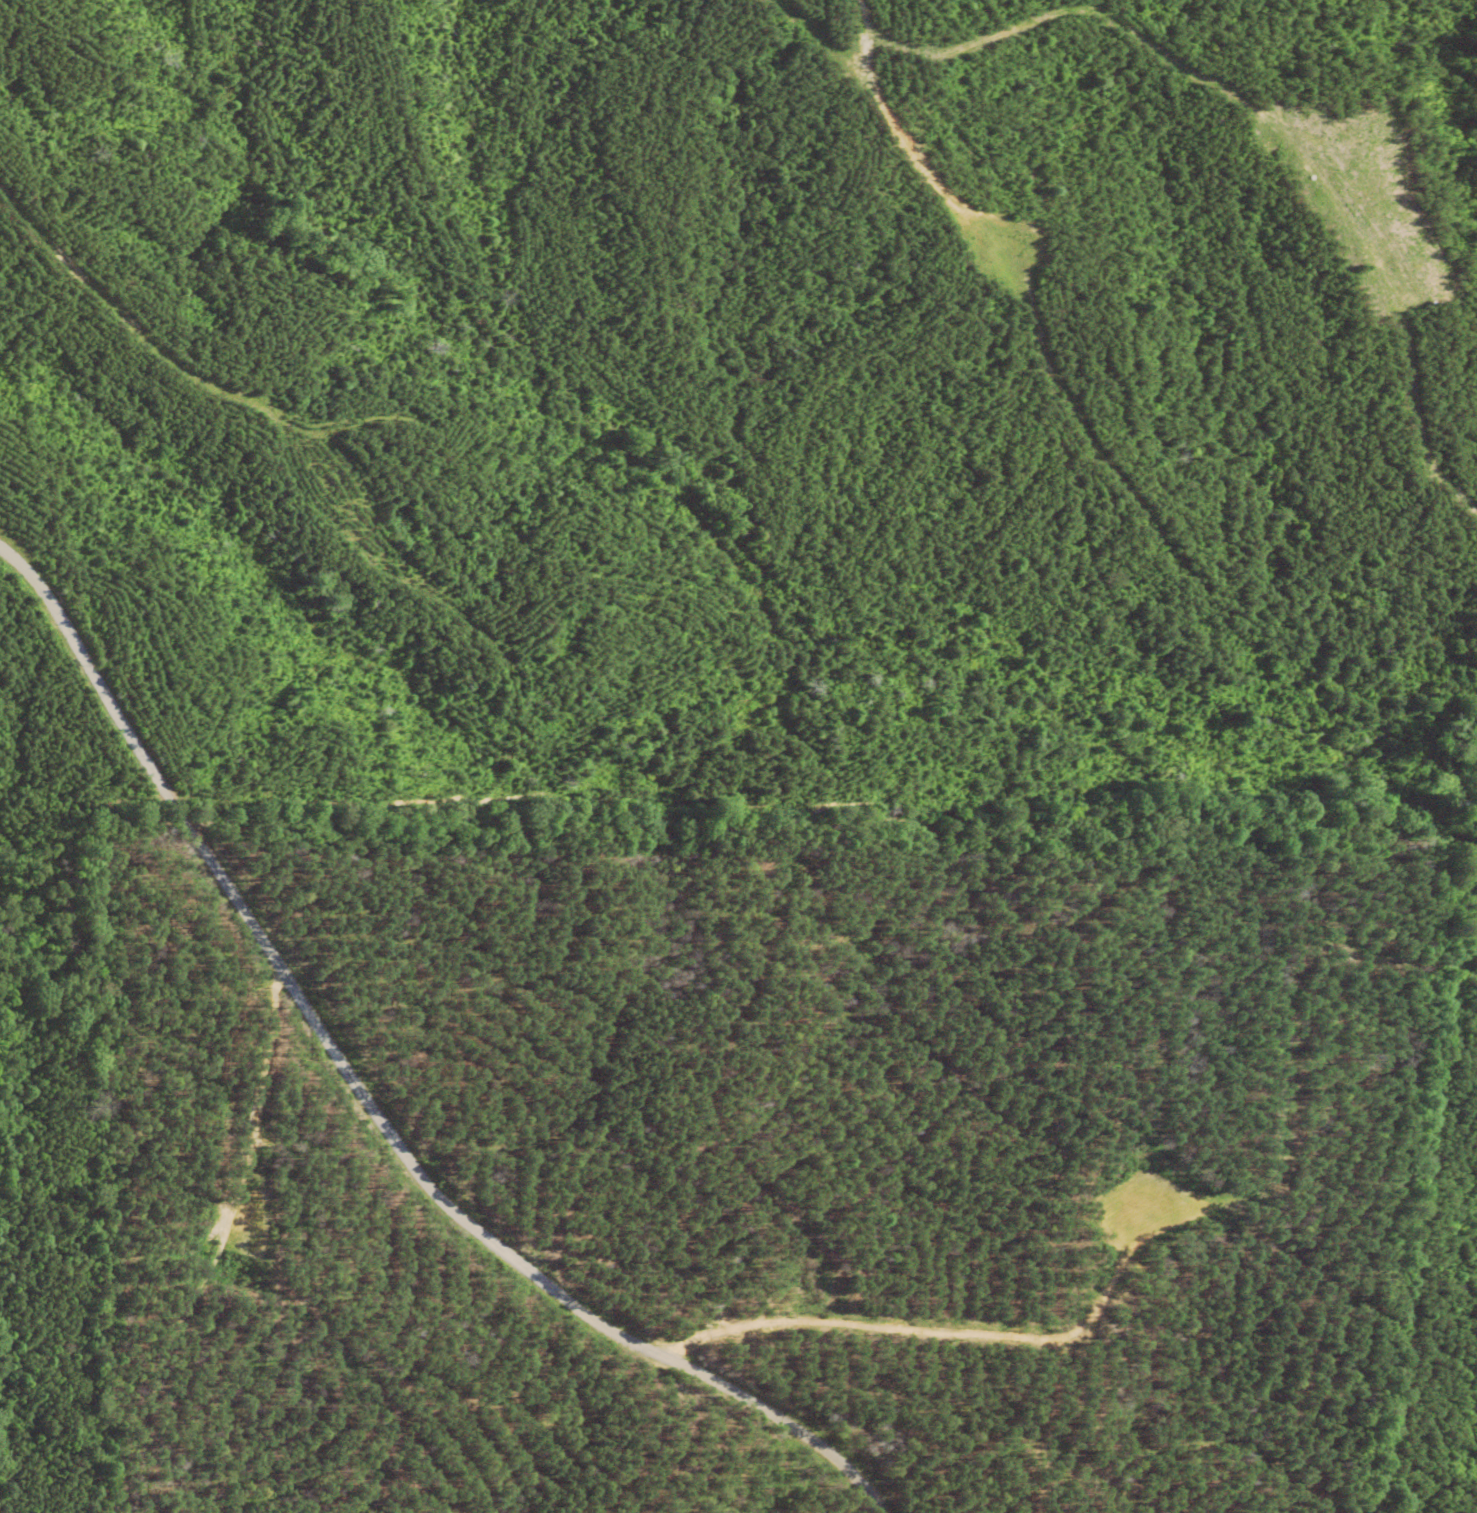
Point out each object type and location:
road: (379, 1105)

